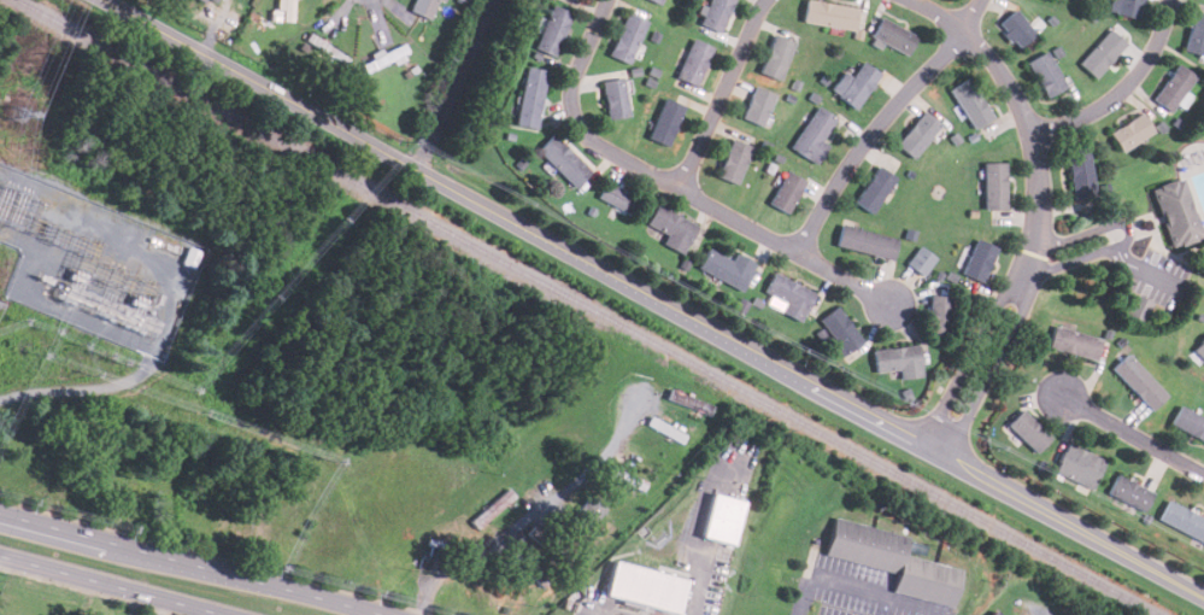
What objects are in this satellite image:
building: (213, 0)
building: (574, 0)
building: (577, 0)
building: (653, 1)
building: (423, 7)
building: (1128, 8)
building: (287, 10)
building: (715, 13)
building: (828, 13)
building: (1015, 29)
building: (551, 30)
building: (1194, 34)
building: (892, 35)
building: (627, 39)
building: (325, 48)
building: (1102, 53)
building: (775, 57)
building: (384, 58)
building: (693, 61)
building: (1045, 74)
building: (854, 84)
building: (1173, 87)
road: (1126, 89)
road: (724, 94)
building: (529, 98)
building: (615, 98)
building: (969, 102)
building: (756, 105)
power tower: (16, 112)
building: (658, 121)
road: (881, 121)
building: (1130, 131)
building: (917, 134)
building: (812, 135)
building: (562, 160)
building: (733, 160)
building: (1080, 172)
building: (993, 184)
road: (675, 186)
power tower: (14, 188)
building: (874, 189)
building: (786, 192)
building: (617, 197)
road: (1040, 212)
building: (1176, 212)
power tower: (2, 219)
building: (671, 227)
road: (1128, 232)
building: (865, 241)
building: (920, 259)
building: (979, 259)
power substation: (94, 262)
road: (1138, 263)
building: (726, 266)
building: (787, 295)
road: (651, 299)
railway: (585, 307)
building: (1137, 307)
building: (938, 315)
building: (840, 329)
building: (1073, 342)
building: (1200, 348)
building: (898, 359)
building: (1138, 380)
building: (689, 402)
building: (1188, 423)
building: (664, 428)
building: (1028, 429)
road: (1134, 434)
building: (1077, 464)
building: (624, 478)
building: (1128, 492)
building: (491, 508)
road: (529, 515)
building: (583, 515)
building: (722, 517)
building: (1182, 521)
building: (429, 553)
building: (892, 560)
road: (189, 564)
building: (525, 567)
road: (695, 581)
road: (859, 582)
road: (110, 585)
building: (644, 585)
road: (599, 611)
building: (994, 613)

